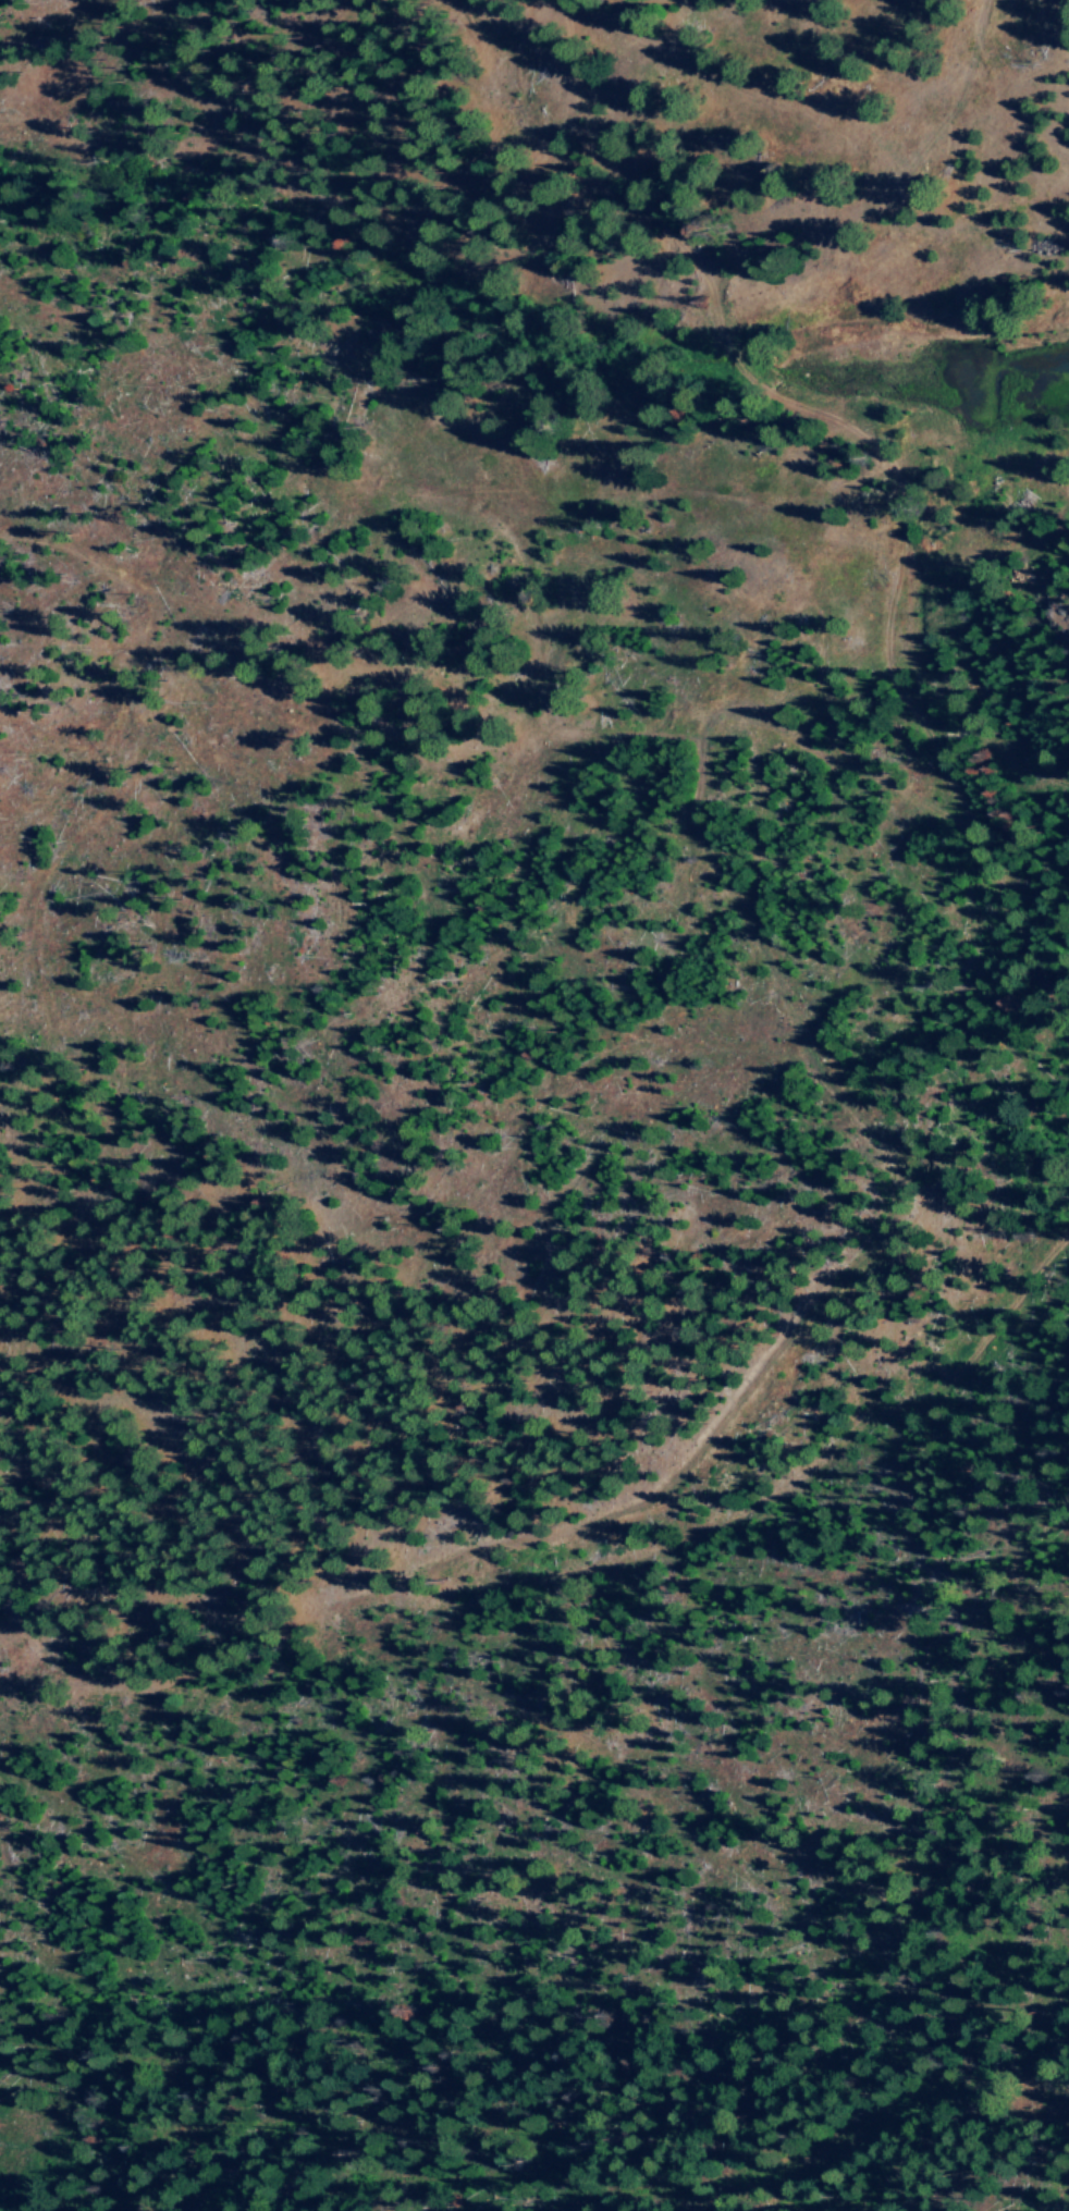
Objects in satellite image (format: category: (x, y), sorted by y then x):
road: (861, 443)

